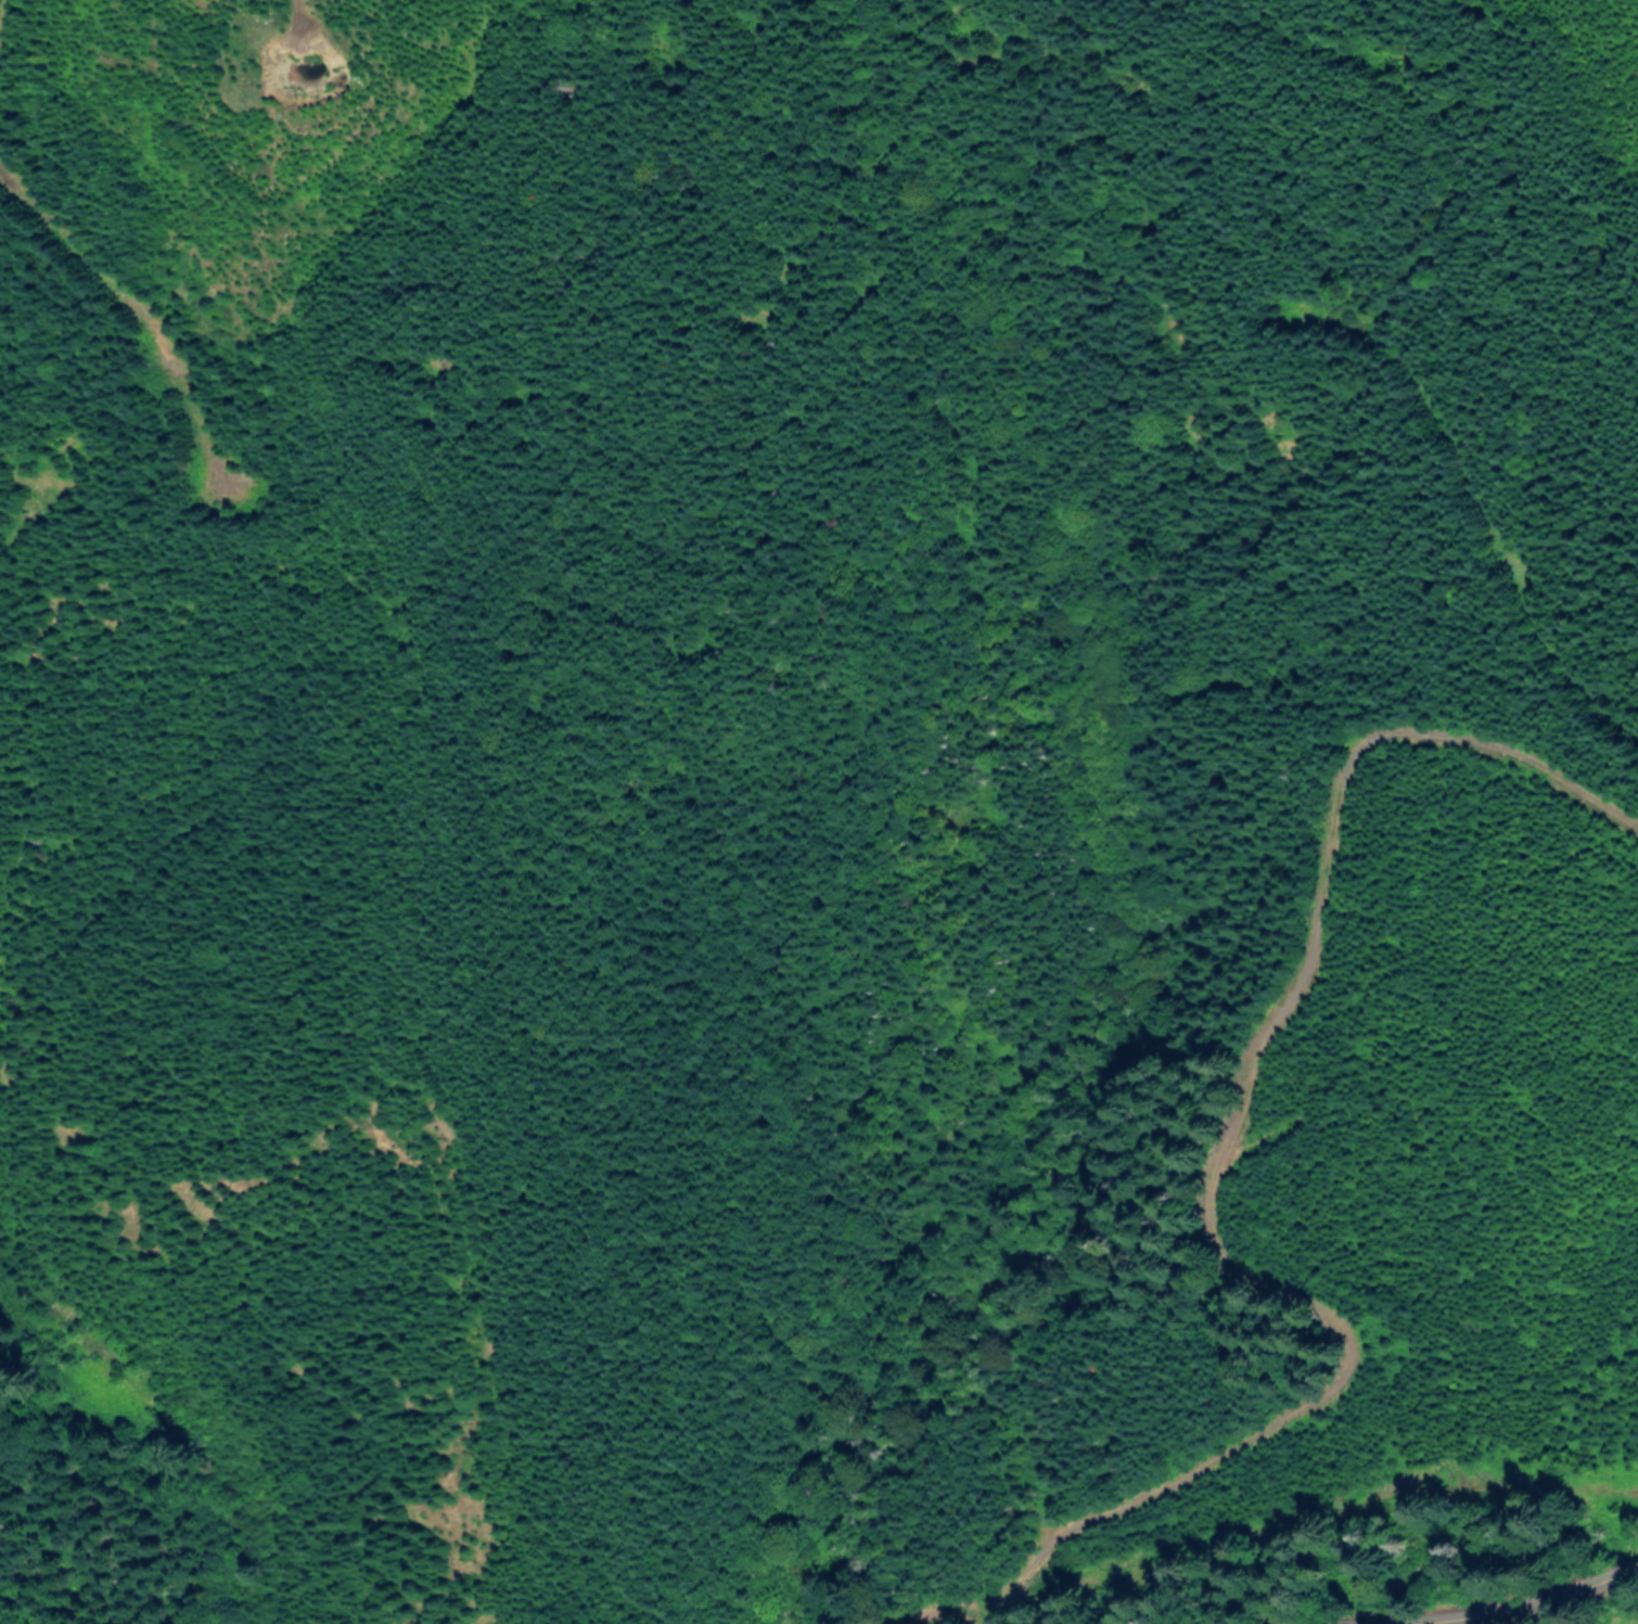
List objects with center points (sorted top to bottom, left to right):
road: (1501, 1614)

